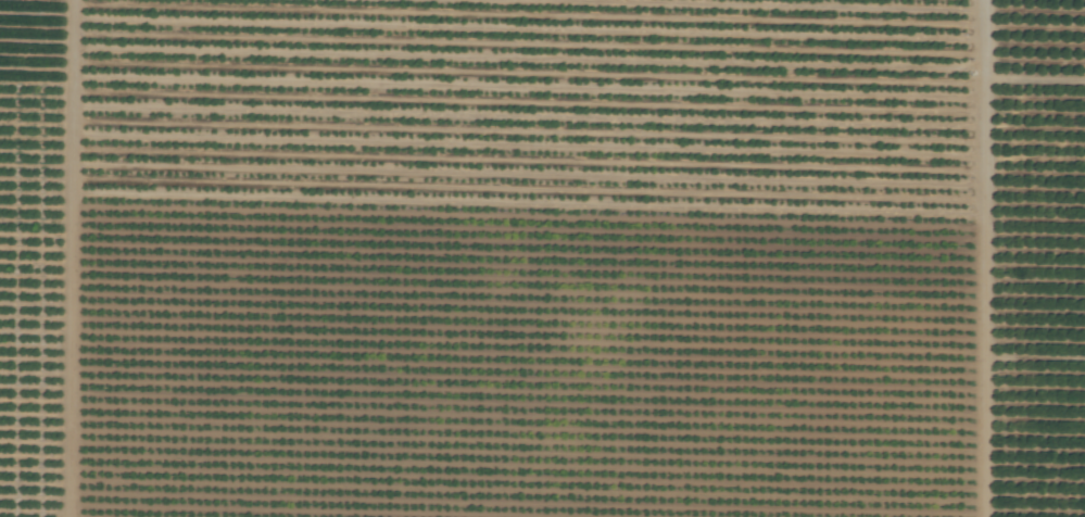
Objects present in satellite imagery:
crop: (542, 258)

